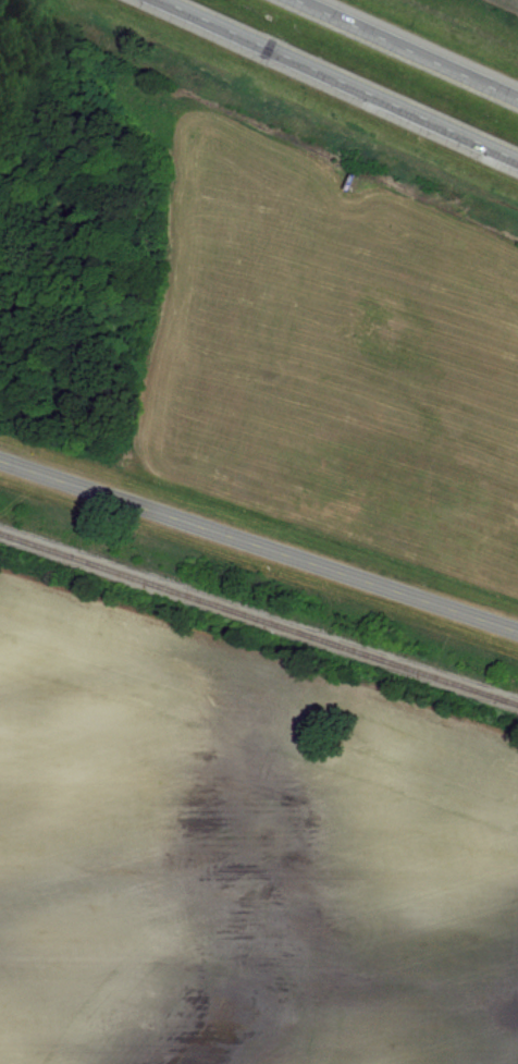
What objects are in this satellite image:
road: (410, 48)
road: (342, 78)
road: (259, 543)
railway: (259, 616)

